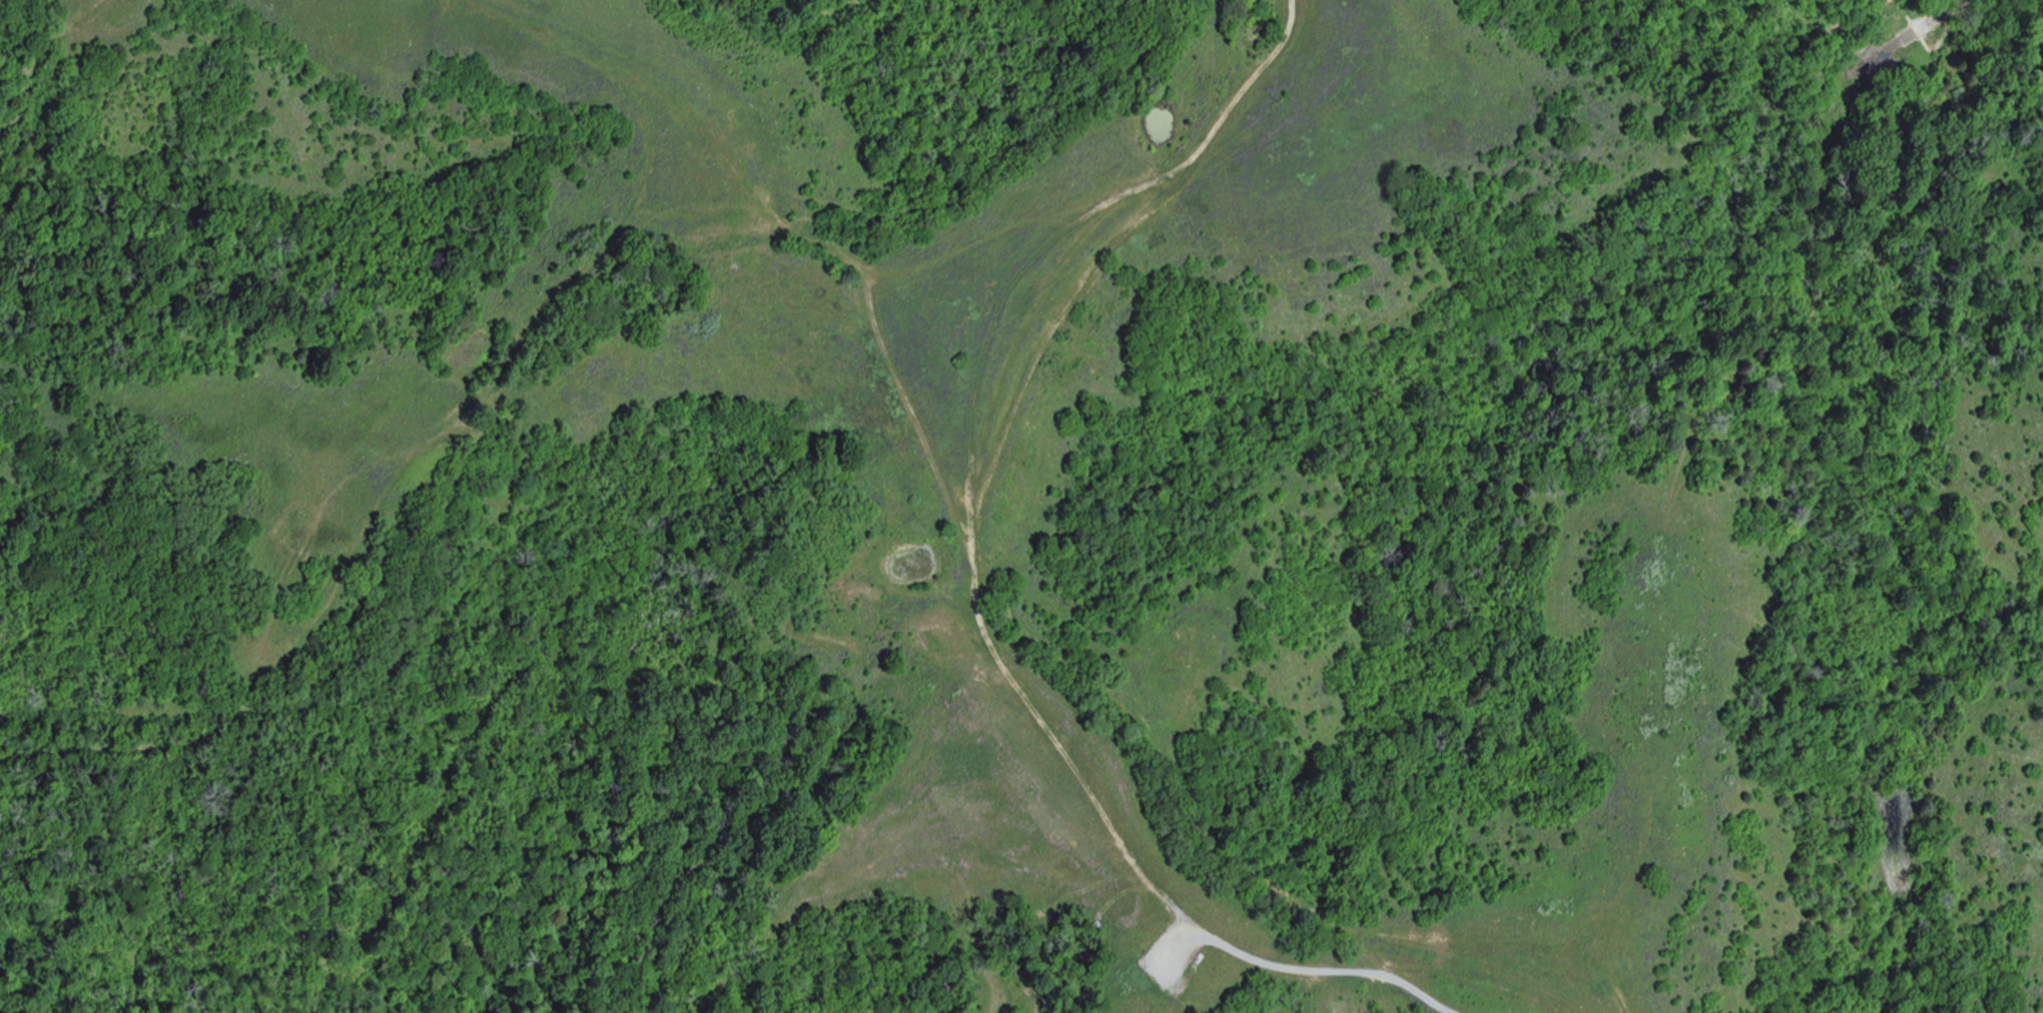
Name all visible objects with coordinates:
road: (795, 233)

